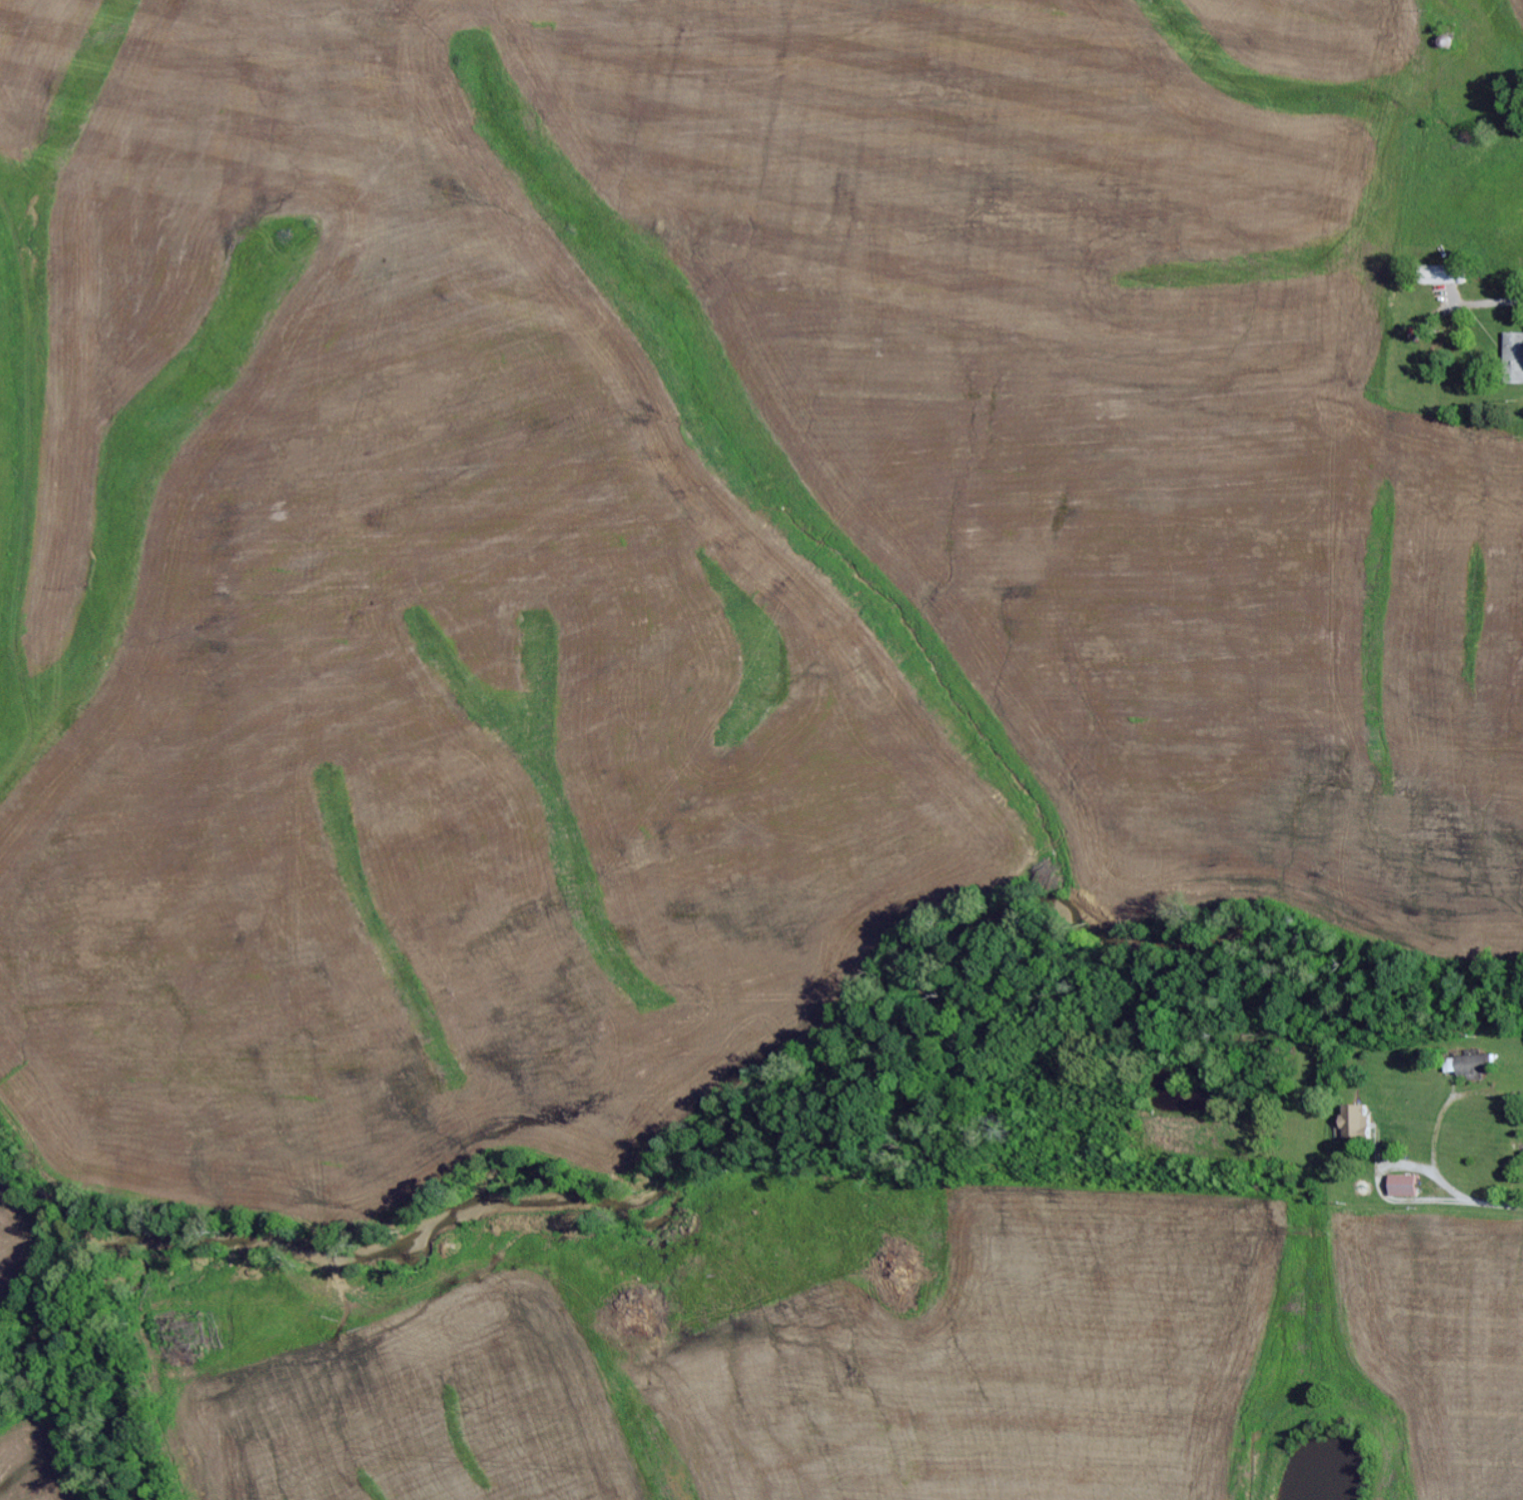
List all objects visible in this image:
building: (1440, 275)
building: (1512, 358)
building: (1465, 1066)
building: (1353, 1121)
building: (1400, 1186)

